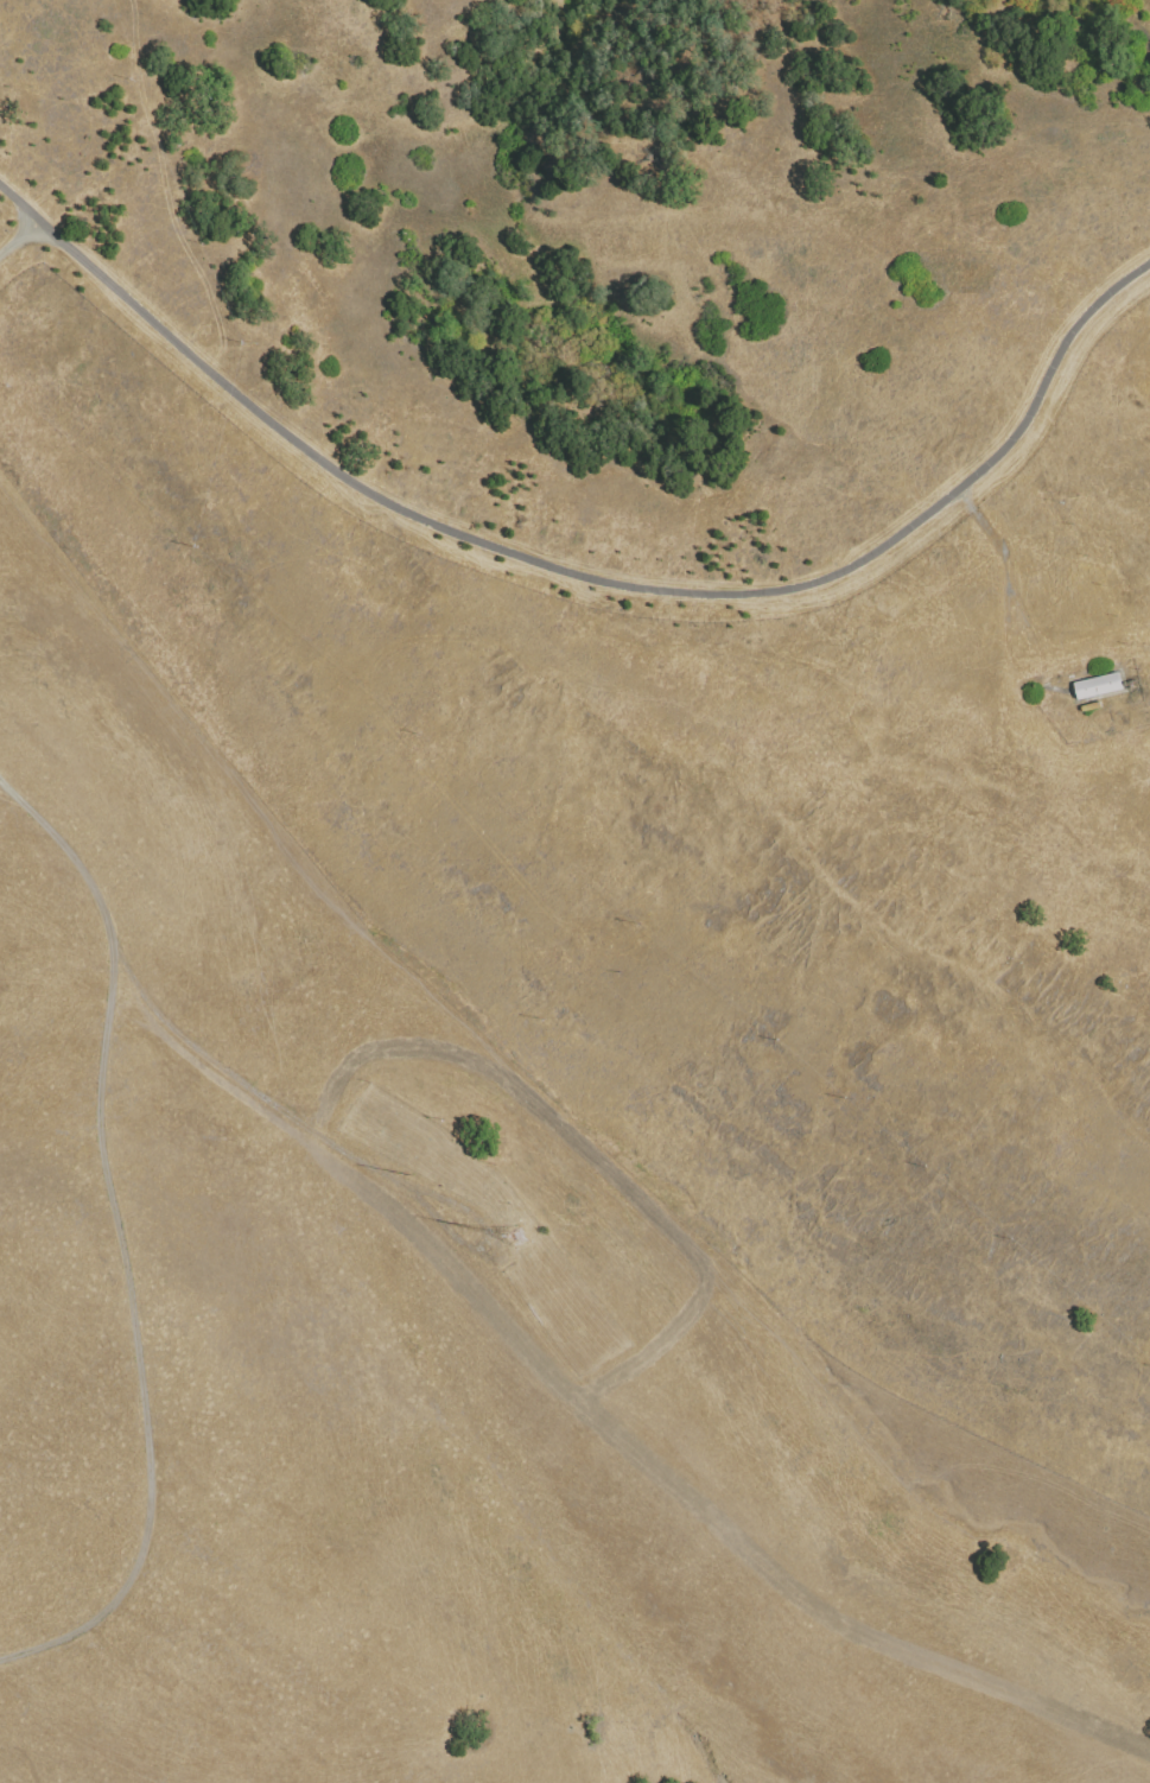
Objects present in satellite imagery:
road: (19, 236)
road: (990, 537)
road: (584, 573)
building: (1133, 687)
building: (1098, 689)
building: (1092, 709)
road: (318, 1134)
road: (120, 1237)
building: (520, 1238)

